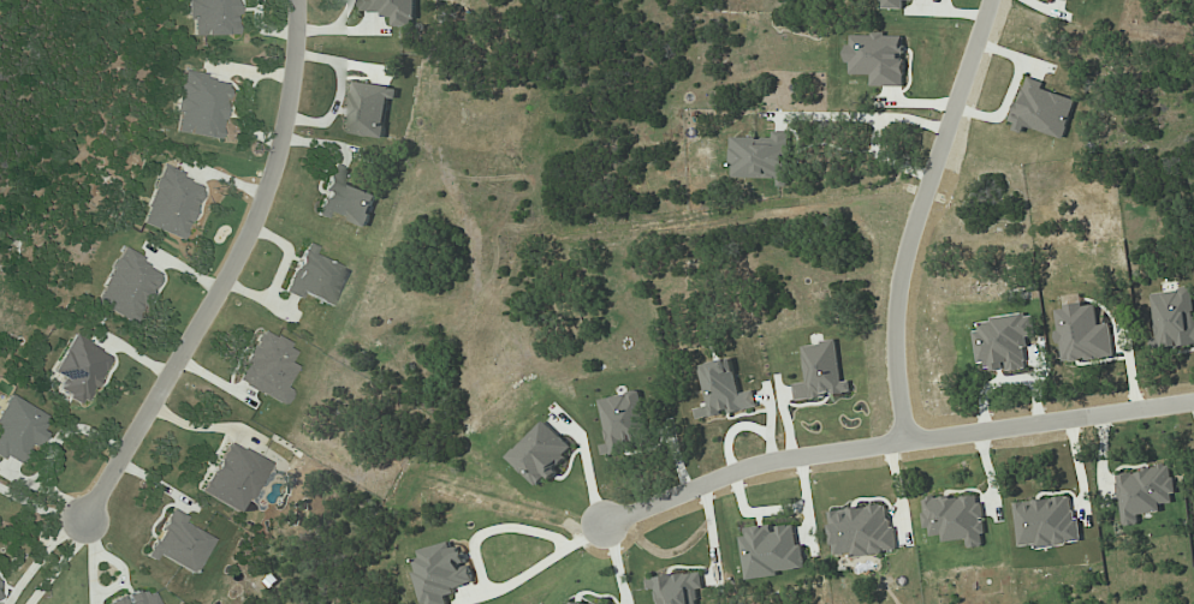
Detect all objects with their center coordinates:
building: (1065, 0)
building: (892, 4)
building: (392, 10)
building: (210, 17)
building: (877, 58)
building: (200, 106)
building: (367, 109)
building: (1041, 110)
road: (868, 116)
building: (762, 157)
road: (885, 160)
building: (345, 199)
building: (171, 203)
road: (915, 217)
road: (227, 273)
building: (314, 279)
building: (126, 286)
building: (1174, 318)
building: (1082, 334)
building: (1004, 341)
building: (266, 367)
building: (78, 369)
building: (821, 372)
building: (723, 390)
building: (625, 423)
building: (18, 430)
road: (891, 444)
building: (540, 453)
building: (232, 477)
building: (1143, 492)
road: (41, 509)
building: (955, 519)
building: (1046, 522)
building: (862, 531)
building: (177, 544)
building: (772, 550)
road: (40, 556)
road: (57, 562)
building: (441, 570)
road: (480, 580)
building: (677, 588)
building: (0, 598)
building: (135, 599)
building: (581, 603)

